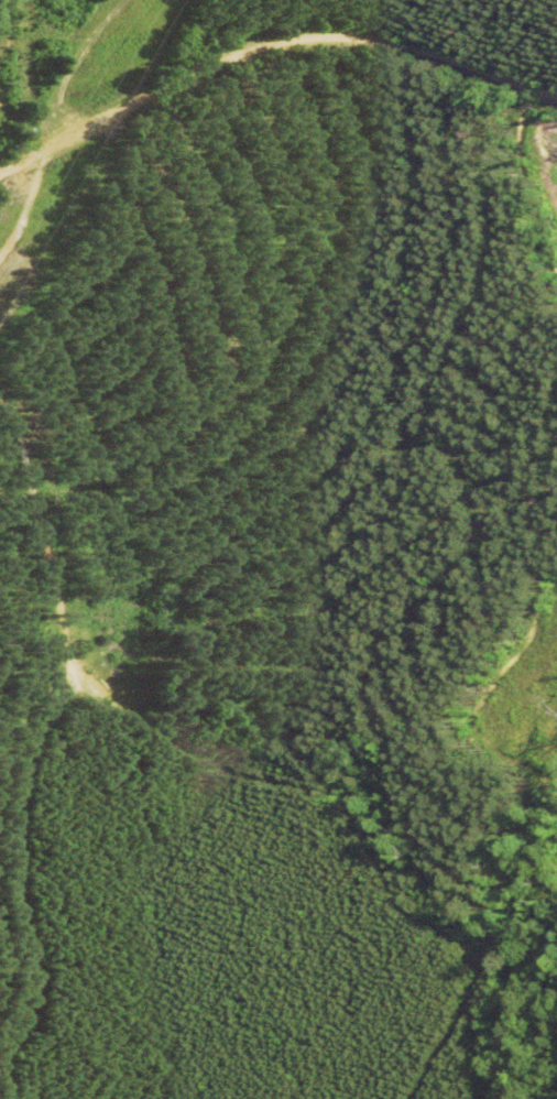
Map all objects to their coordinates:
road: (308, 41)
road: (35, 157)

